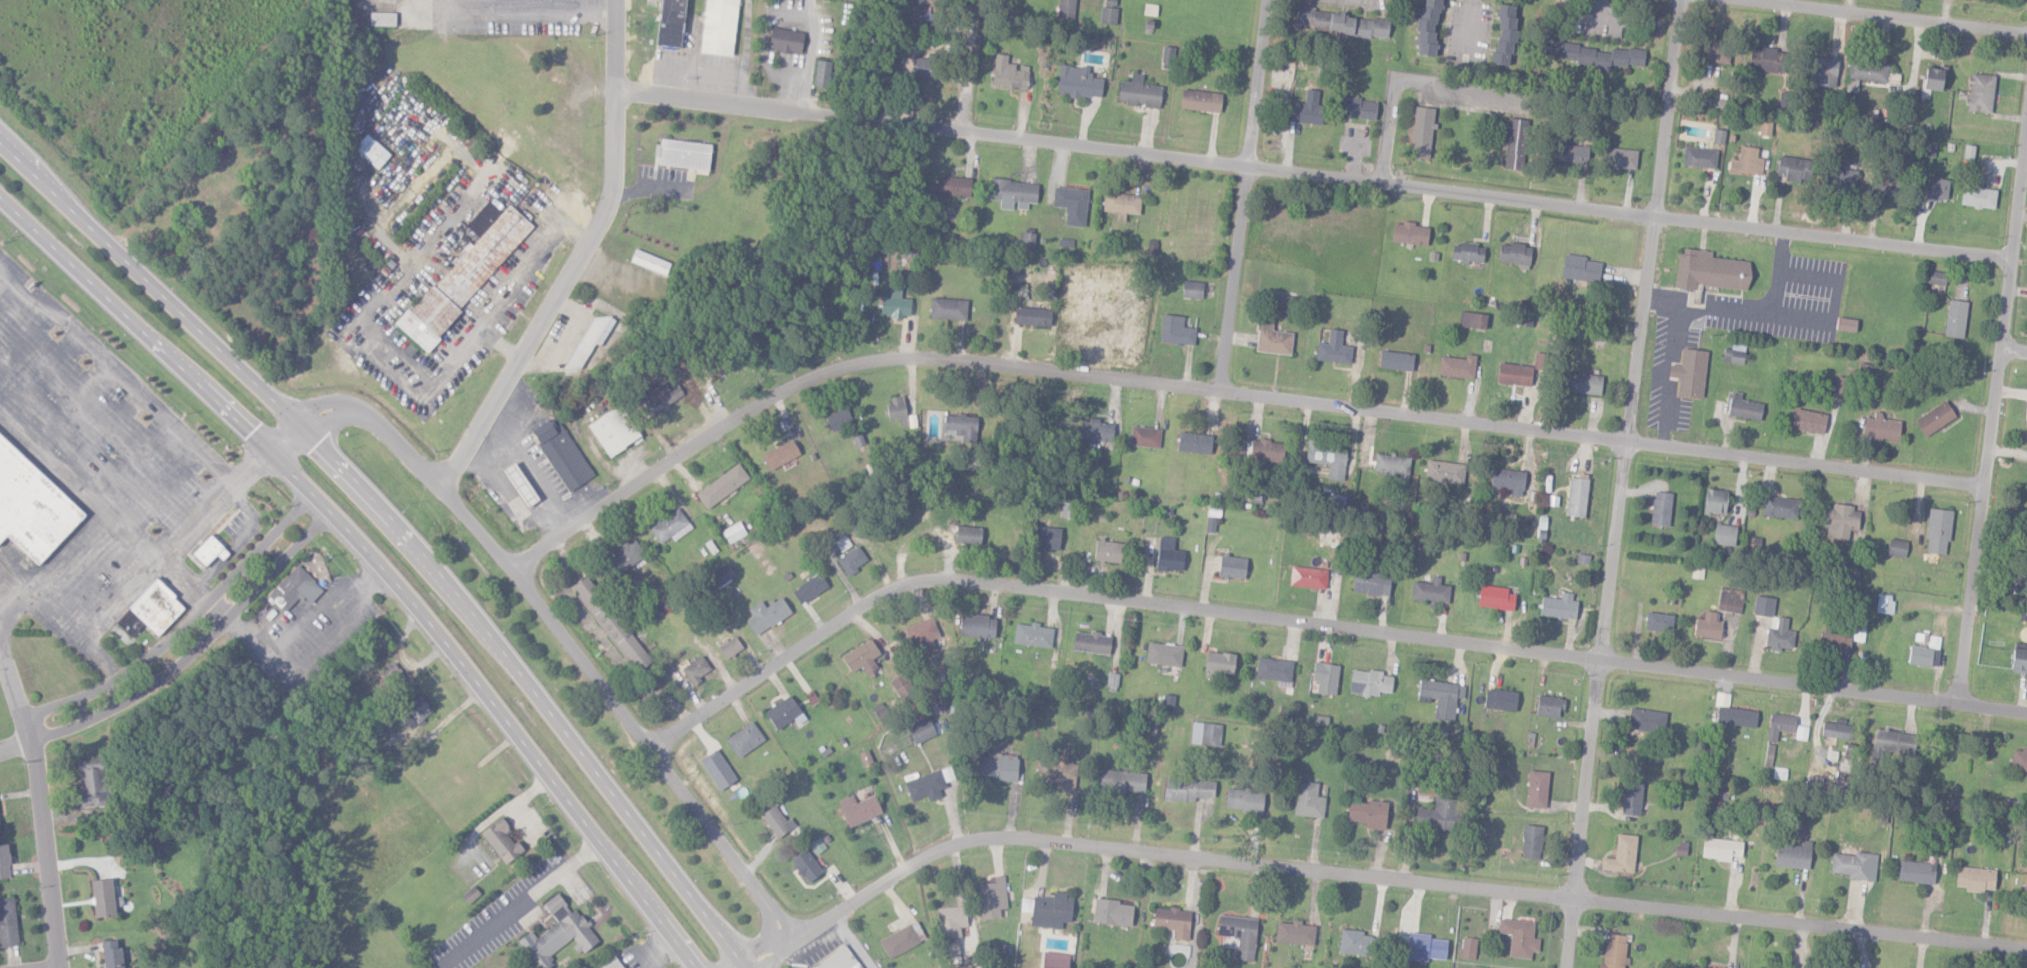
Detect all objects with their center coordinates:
building: (1066, 9)
building: (1149, 10)
building: (1109, 11)
road: (519, 14)
building: (381, 19)
road: (1873, 19)
building: (670, 23)
building: (1341, 23)
building: (718, 27)
building: (1427, 28)
building: (1504, 35)
building: (785, 41)
building: (1714, 51)
building: (1594, 55)
building: (1167, 56)
building: (1766, 61)
road: (966, 66)
building: (917, 68)
building: (1823, 72)
building: (1867, 72)
building: (1009, 73)
building: (822, 74)
road: (805, 77)
building: (1932, 79)
road: (1404, 80)
building: (1078, 81)
building: (1139, 92)
building: (1980, 93)
building: (1200, 100)
building: (1358, 107)
building: (1305, 108)
building: (1765, 126)
building: (1421, 131)
building: (1718, 135)
building: (1515, 143)
building: (1927, 148)
building: (371, 150)
building: (1968, 151)
building: (1570, 152)
building: (682, 153)
building: (1621, 157)
building: (1699, 157)
building: (1746, 160)
building: (1793, 168)
building: (1841, 174)
road: (1307, 179)
building: (1885, 181)
building: (953, 185)
building: (1935, 187)
building: (1012, 193)
road: (1240, 195)
building: (1978, 196)
building: (1071, 204)
building: (1121, 204)
building: (484, 216)
building: (1409, 233)
building: (1027, 240)
building: (1467, 252)
road: (577, 253)
building: (1515, 254)
building: (873, 255)
building: (649, 261)
building: (1580, 268)
building: (1710, 270)
building: (465, 275)
road: (509, 277)
building: (1937, 277)
building: (1191, 289)
building: (895, 305)
building: (948, 308)
road: (1741, 313)
building: (1029, 316)
building: (1955, 318)
building: (1472, 319)
building: (1846, 324)
building: (1175, 330)
road: (1674, 337)
building: (587, 339)
building: (1272, 339)
building: (1333, 348)
building: (1733, 354)
road: (2011, 354)
building: (1395, 360)
building: (718, 364)
building: (1457, 366)
road: (118, 370)
building: (1689, 373)
building: (1514, 374)
road: (1670, 376)
building: (1583, 382)
building: (1840, 387)
road: (1989, 393)
road: (1248, 395)
building: (658, 400)
building: (1744, 407)
building: (897, 409)
building: (1935, 417)
road: (1665, 418)
building: (838, 419)
building: (1809, 420)
traffic signals: (299, 421)
building: (960, 427)
building: (1881, 427)
building: (613, 430)
building: (1095, 430)
building: (1144, 436)
building: (1193, 442)
traffic signals: (274, 446)
building: (1266, 450)
building: (561, 452)
building: (779, 454)
building: (1327, 459)
building: (1391, 464)
building: (1444, 471)
building: (1508, 480)
building: (519, 483)
road: (1615, 483)
building: (721, 485)
building: (1576, 496)
building: (1714, 501)
building: (31, 506)
building: (1779, 507)
building: (1661, 508)
road: (101, 516)
building: (1840, 521)
building: (670, 526)
road: (406, 527)
building: (1938, 530)
building: (733, 532)
building: (967, 534)
building: (1724, 534)
building: (1048, 538)
building: (1897, 547)
building: (207, 550)
building: (1108, 551)
road: (545, 552)
road: (377, 555)
building: (1168, 555)
building: (625, 556)
building: (852, 560)
building: (1231, 566)
road: (147, 570)
building: (1850, 570)
building: (722, 575)
building: (1307, 577)
building: (1370, 583)
building: (809, 588)
building: (293, 589)
building: (1430, 591)
building: (1495, 597)
building: (1730, 600)
building: (1884, 603)
building: (1558, 606)
building: (1763, 606)
building: (149, 610)
building: (766, 614)
building: (1659, 621)
road: (564, 622)
building: (610, 623)
road: (183, 625)
building: (1707, 625)
building: (976, 626)
road: (1359, 630)
building: (1860, 631)
building: (1779, 633)
building: (1032, 635)
building: (923, 637)
building: (1090, 642)
building: (1834, 642)
road: (196, 647)
building: (729, 647)
building: (1925, 652)
building: (1163, 653)
road: (1, 657)
building: (861, 657)
building: (2018, 660)
building: (1219, 662)
road: (304, 666)
building: (695, 669)
building: (395, 677)
building: (1325, 677)
building: (1369, 682)
building: (1441, 697)
building: (1500, 699)
road: (15, 700)
building: (1549, 706)
building: (414, 710)
building: (781, 712)
building: (1647, 719)
road: (691, 722)
building: (1780, 725)
building: (1836, 729)
building: (920, 730)
building: (1205, 733)
building: (744, 739)
building: (1892, 742)
road: (15, 745)
building: (2019, 759)
building: (998, 767)
building: (1057, 773)
building: (1121, 781)
building: (90, 783)
building: (925, 786)
building: (1187, 789)
building: (1537, 789)
building: (1630, 797)
building: (1244, 800)
building: (1308, 800)
building: (858, 809)
building: (1367, 813)
building: (1436, 815)
building: (776, 821)
building: (501, 841)
building: (1531, 842)
building: (817, 845)
building: (1720, 849)
road: (44, 854)
building: (1622, 854)
building: (1793, 855)
building: (3, 861)
building: (805, 865)
building: (1854, 865)
building: (1916, 871)
road: (1370, 878)
building: (1976, 878)
building: (2025, 884)
road: (533, 893)
building: (102, 897)
building: (991, 898)
building: (1048, 910)
building: (1111, 912)
building: (950, 921)
building: (1173, 921)
building: (7, 922)
building: (1294, 933)
building: (557, 934)
building: (1239, 934)
building: (1519, 937)
building: (898, 941)
building: (1354, 942)
building: (1425, 947)
building: (1468, 948)
building: (1614, 951)
building: (111, 954)
building: (839, 959)
building: (1054, 960)
building: (610, 963)
building: (1693, 967)

